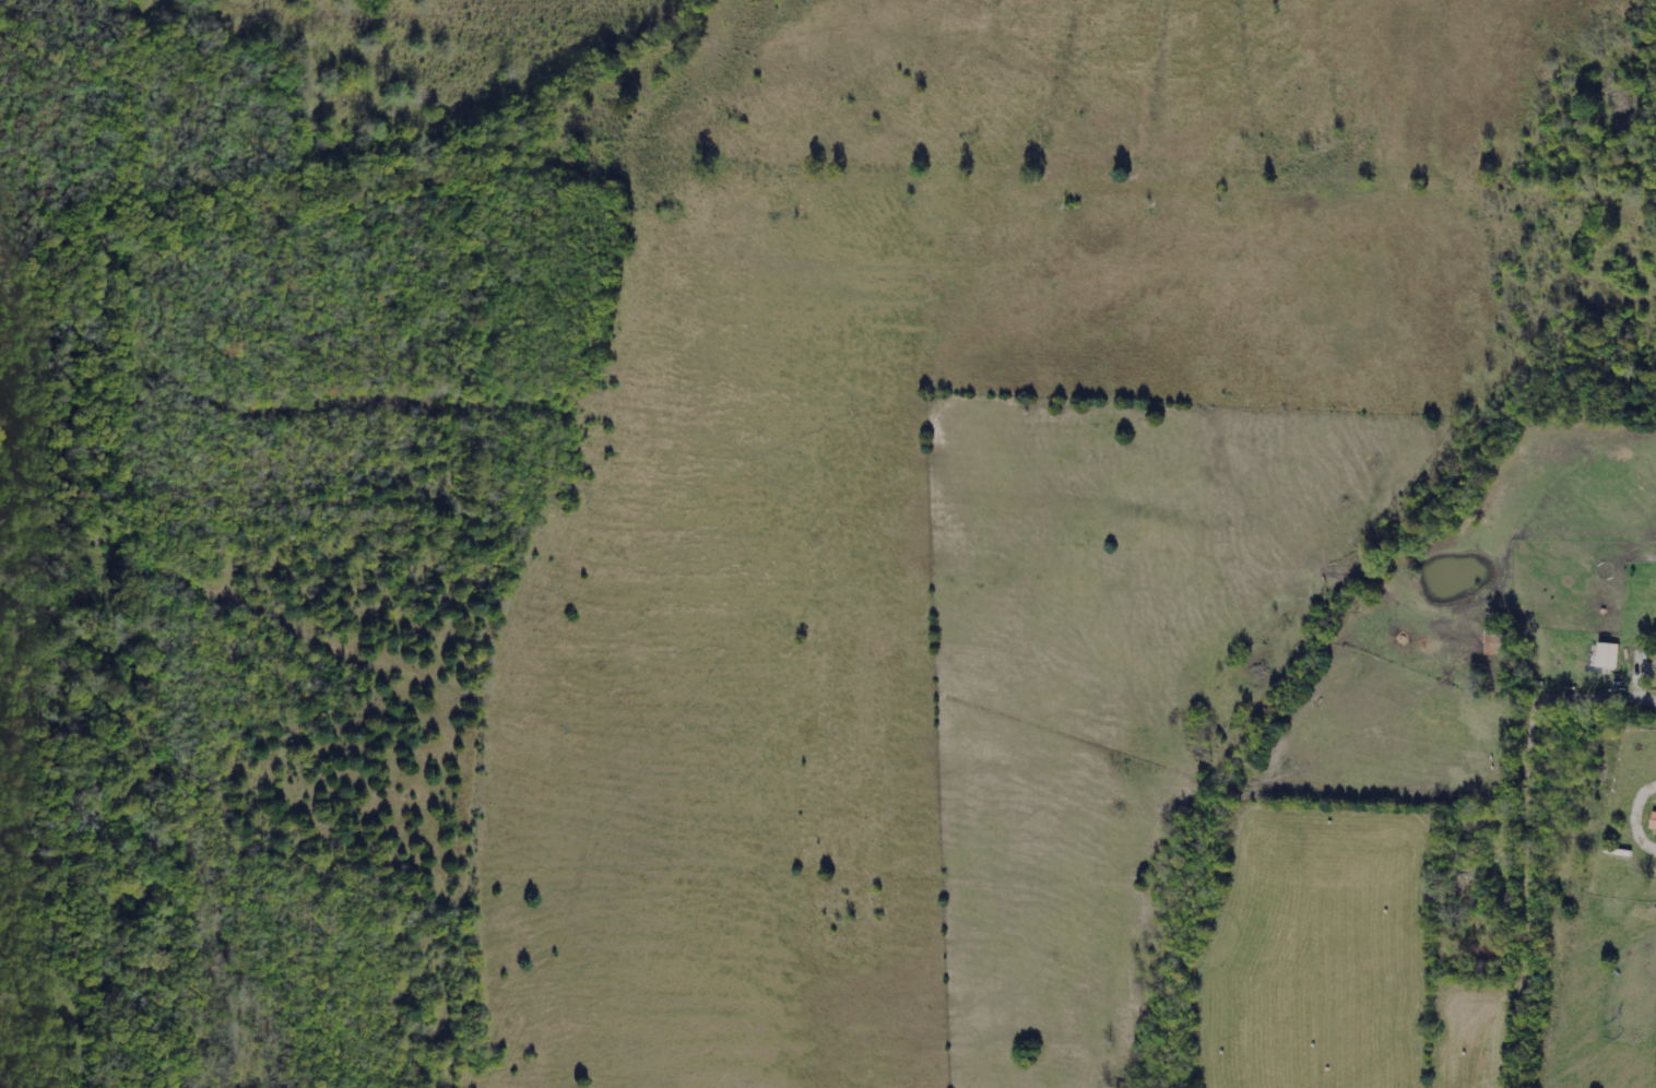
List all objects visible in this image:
building: (1501, 641)
road: (1539, 695)
road: (1637, 816)
building: (1654, 828)

